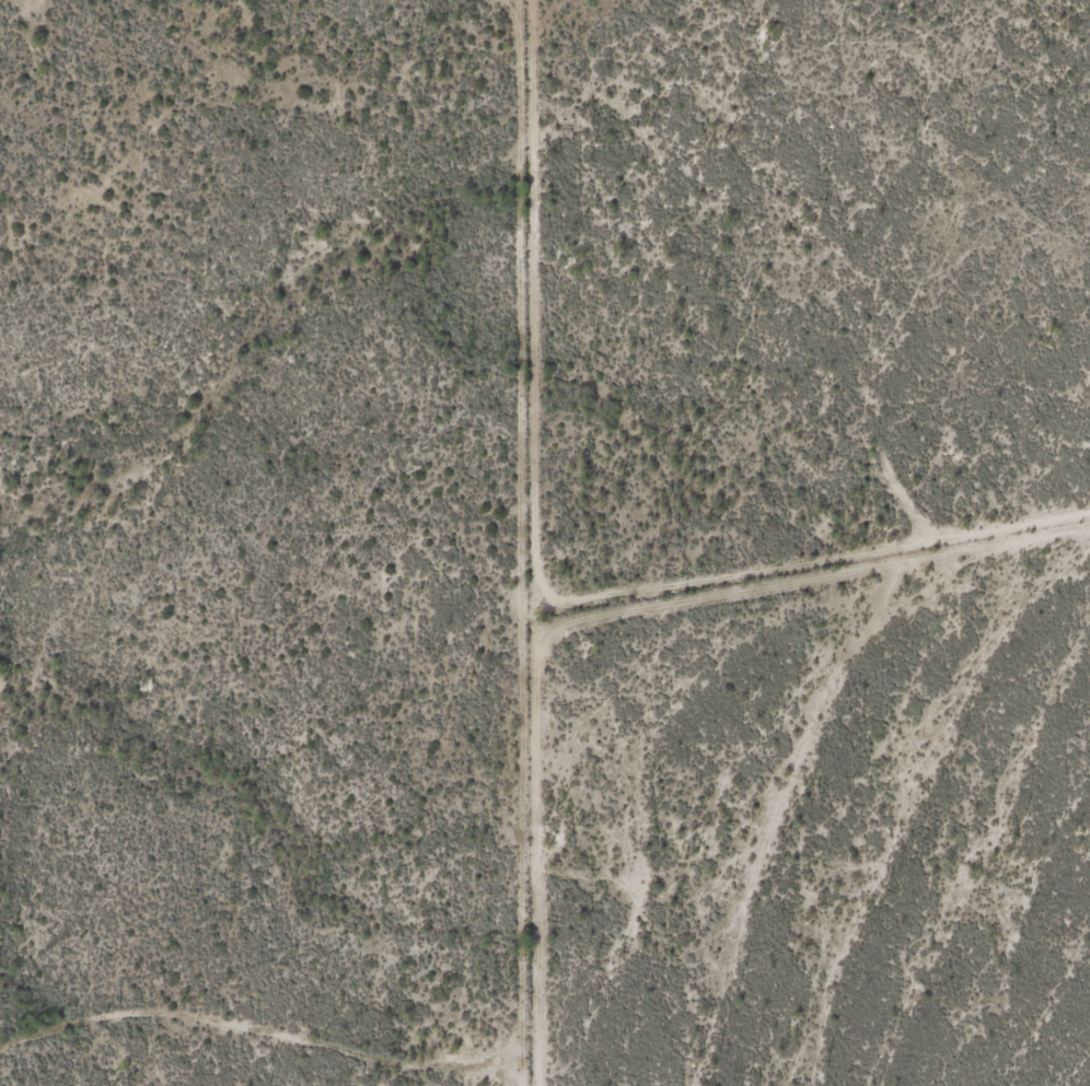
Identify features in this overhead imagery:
road: (530, 789)

